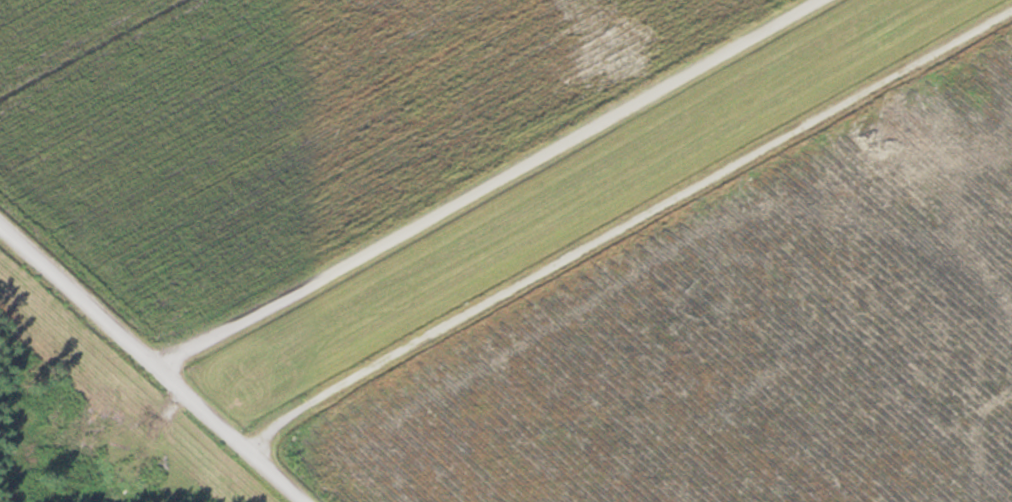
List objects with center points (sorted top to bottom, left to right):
road: (487, 183)
road: (153, 362)

